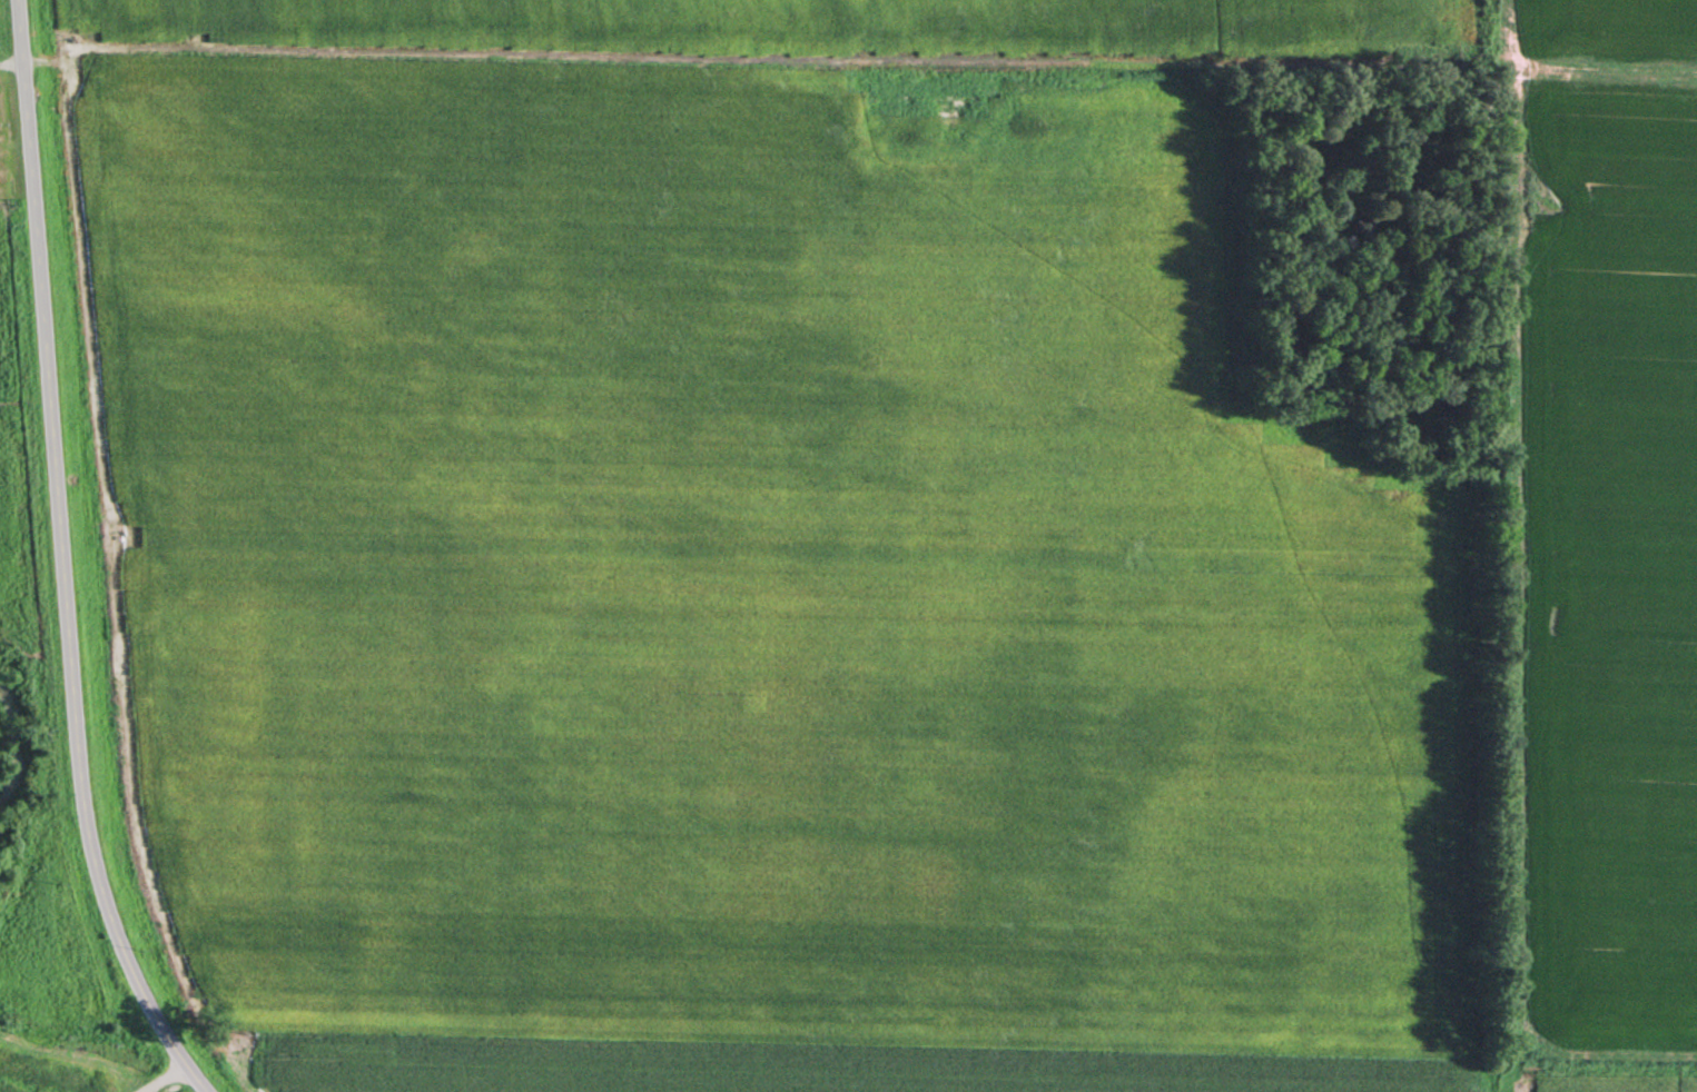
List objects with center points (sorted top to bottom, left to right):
road: (61, 560)

